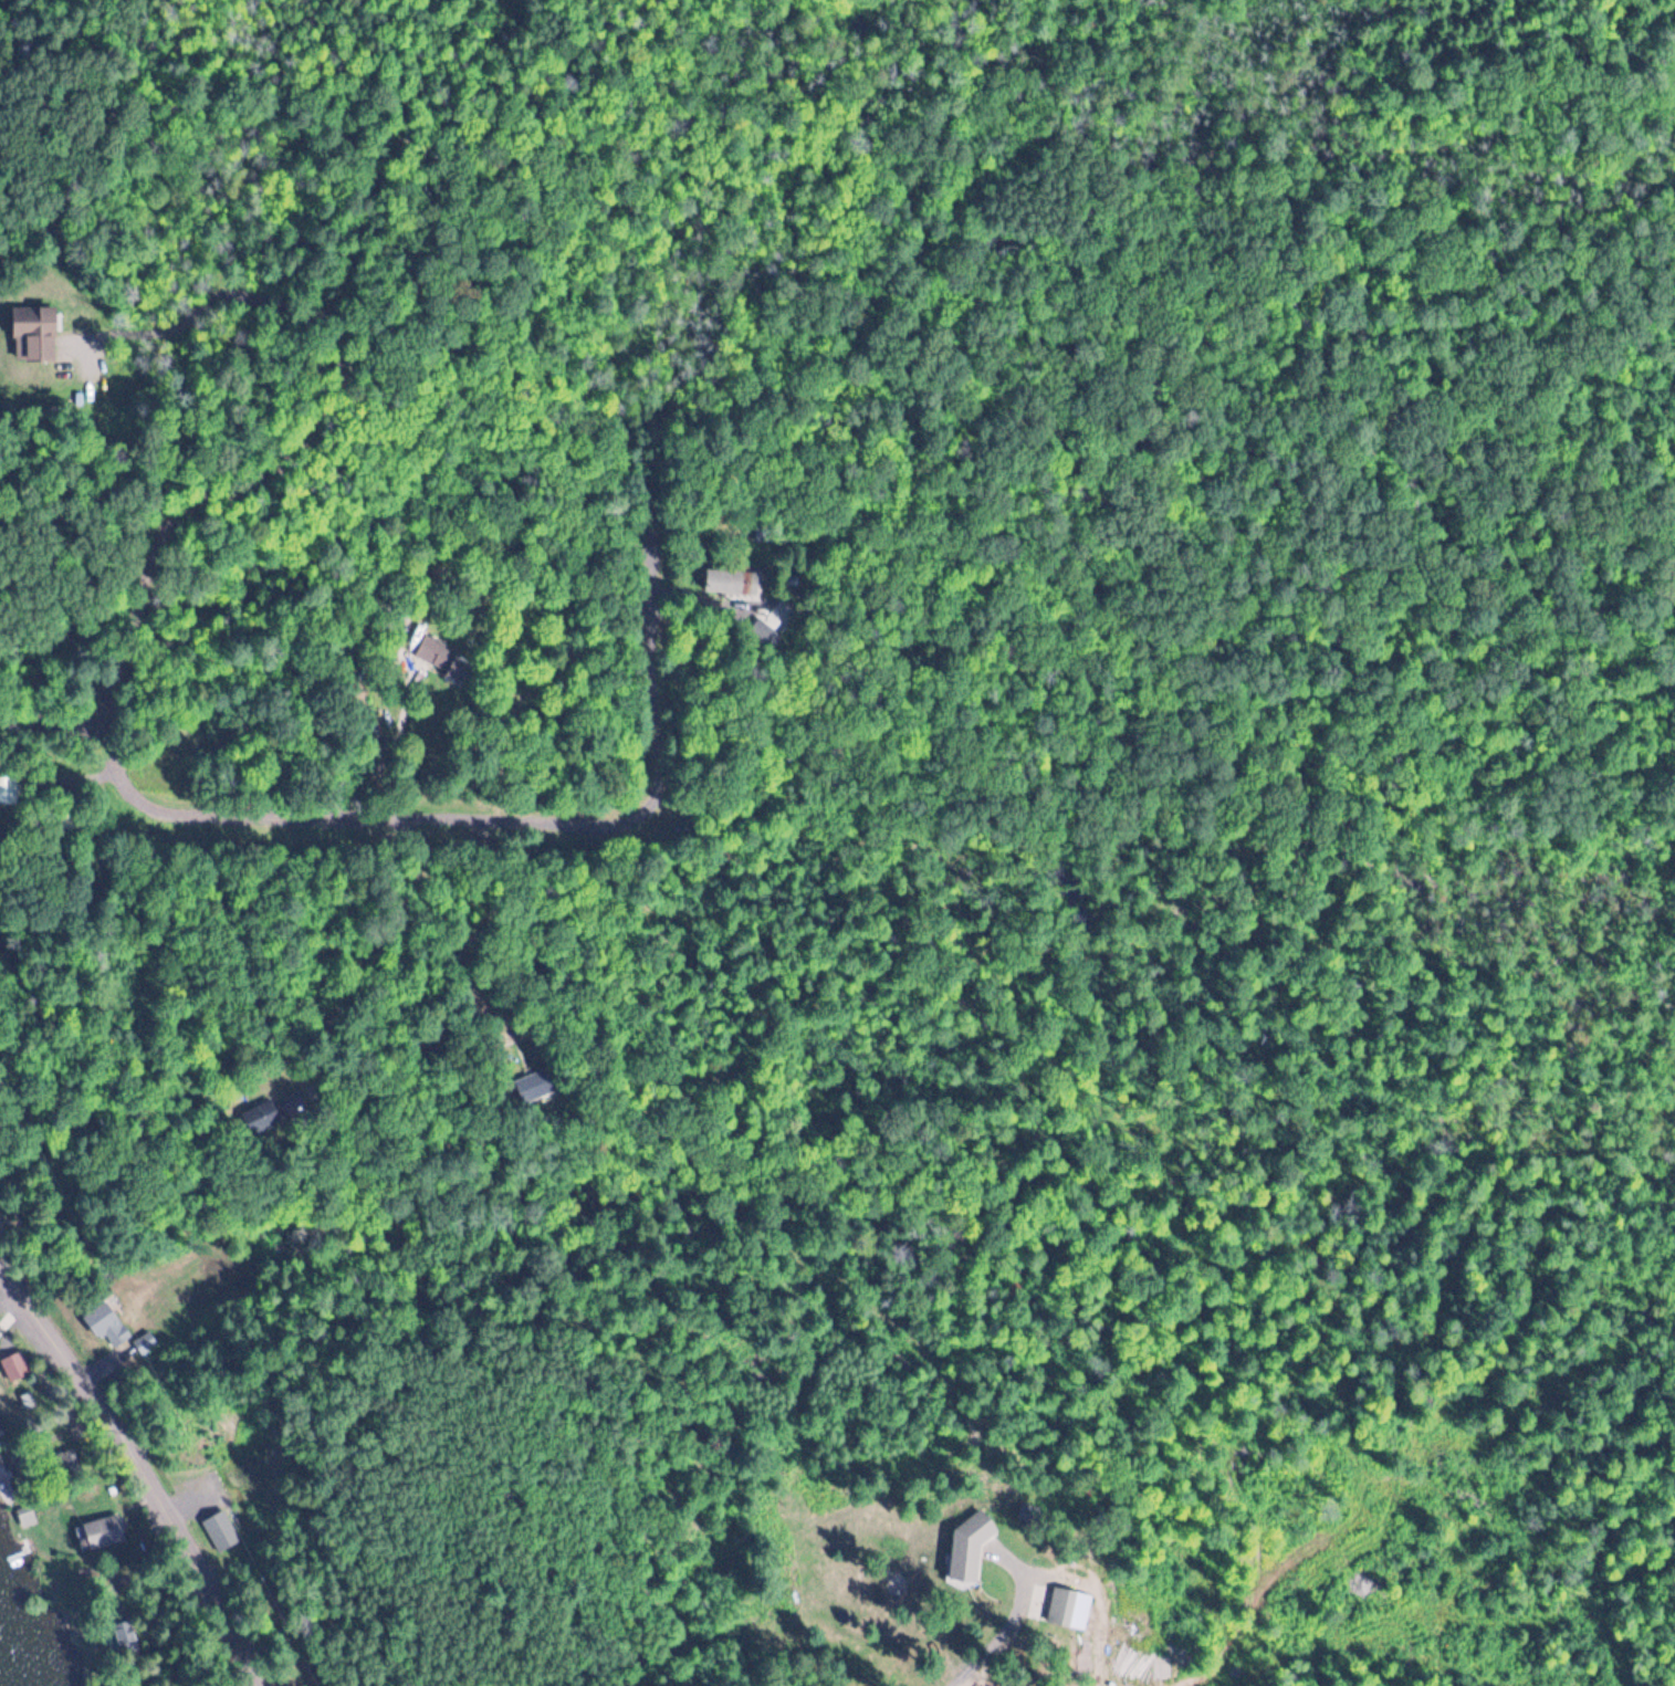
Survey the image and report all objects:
building: (34, 334)
building: (730, 579)
building: (764, 622)
road: (133, 625)
building: (439, 653)
building: (6, 788)
road: (481, 819)
building: (528, 1086)
building: (107, 1320)
building: (148, 1341)
road: (138, 1469)
building: (220, 1523)
building: (94, 1530)
building: (967, 1546)
building: (1058, 1604)
building: (121, 1633)
road: (997, 1635)

